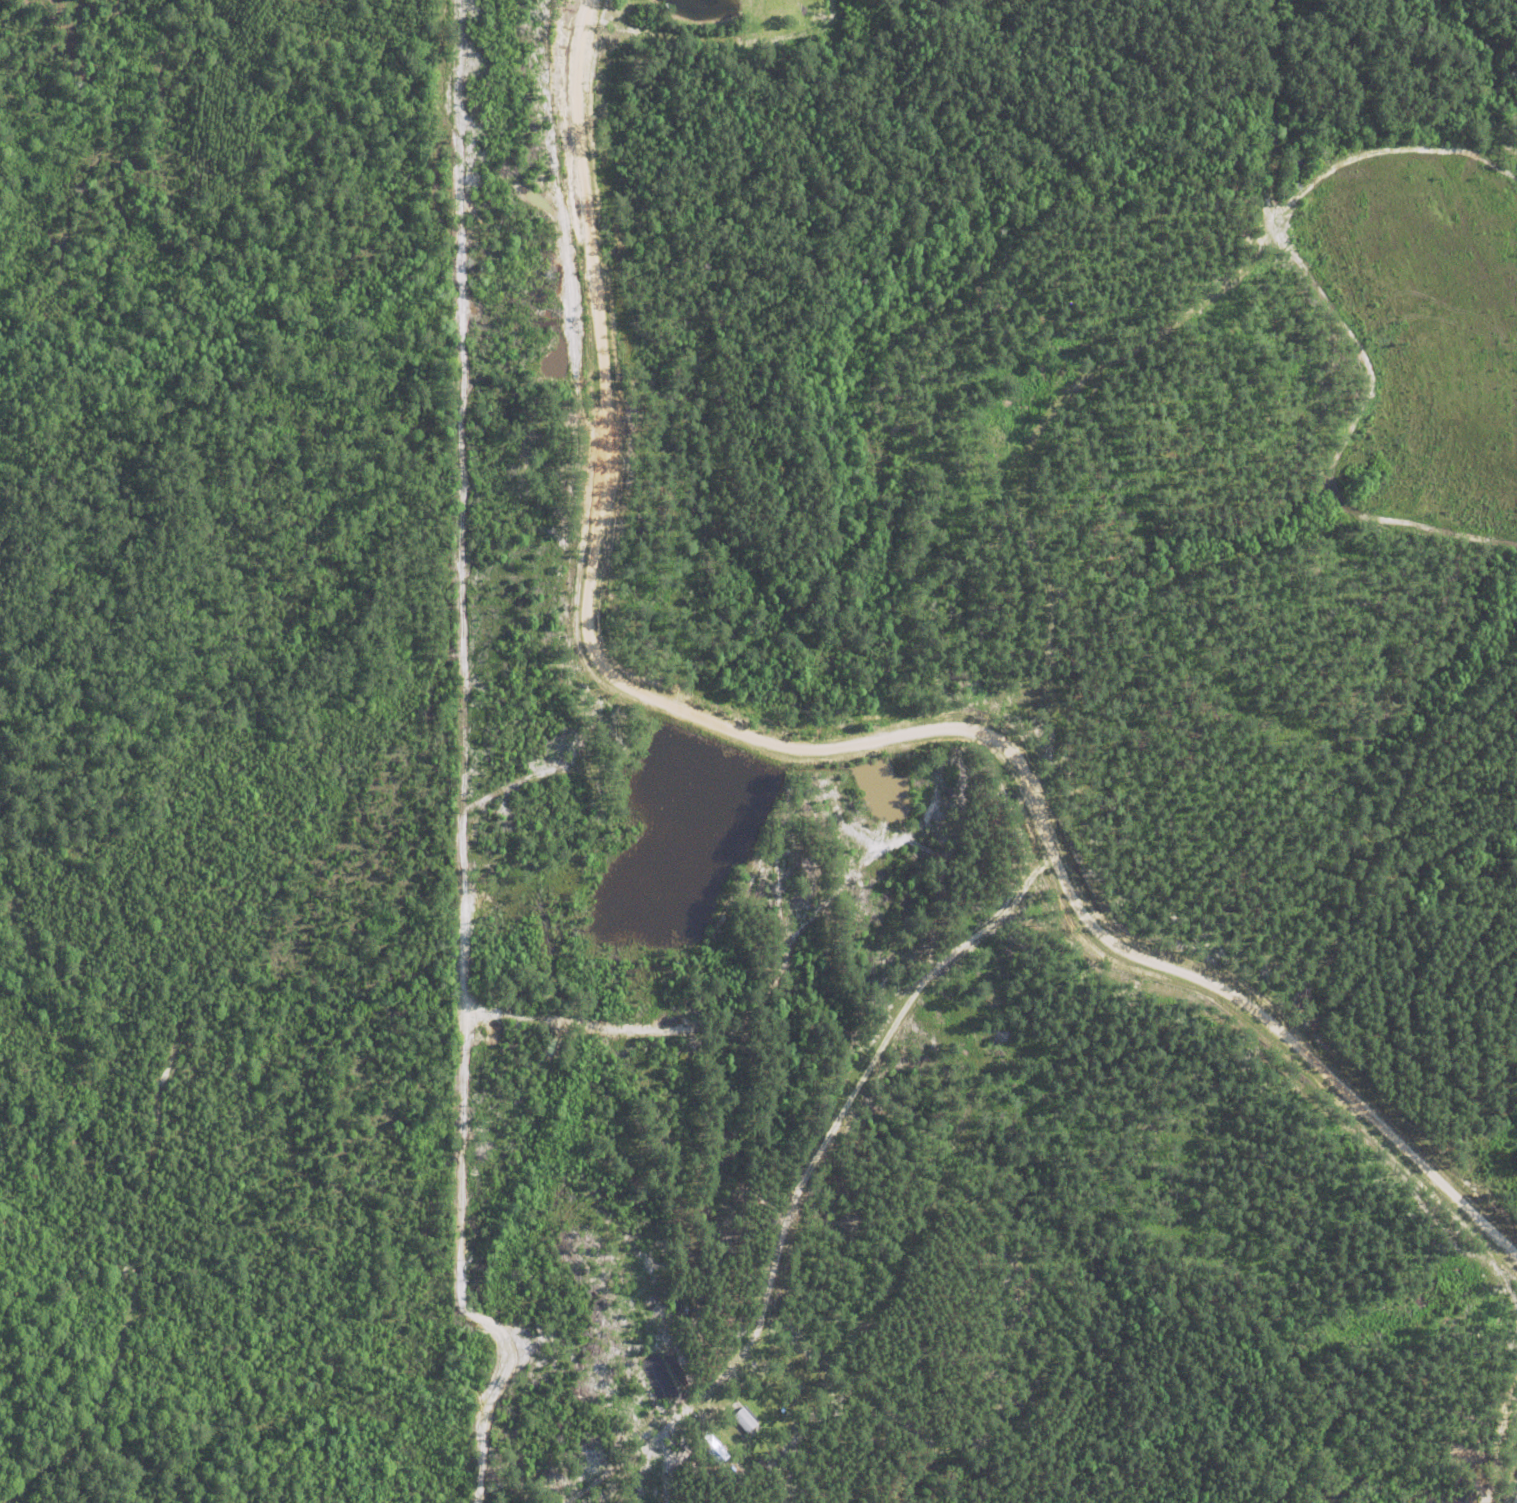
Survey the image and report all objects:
road: (831, 748)
building: (744, 1420)
road: (1516, 1501)

